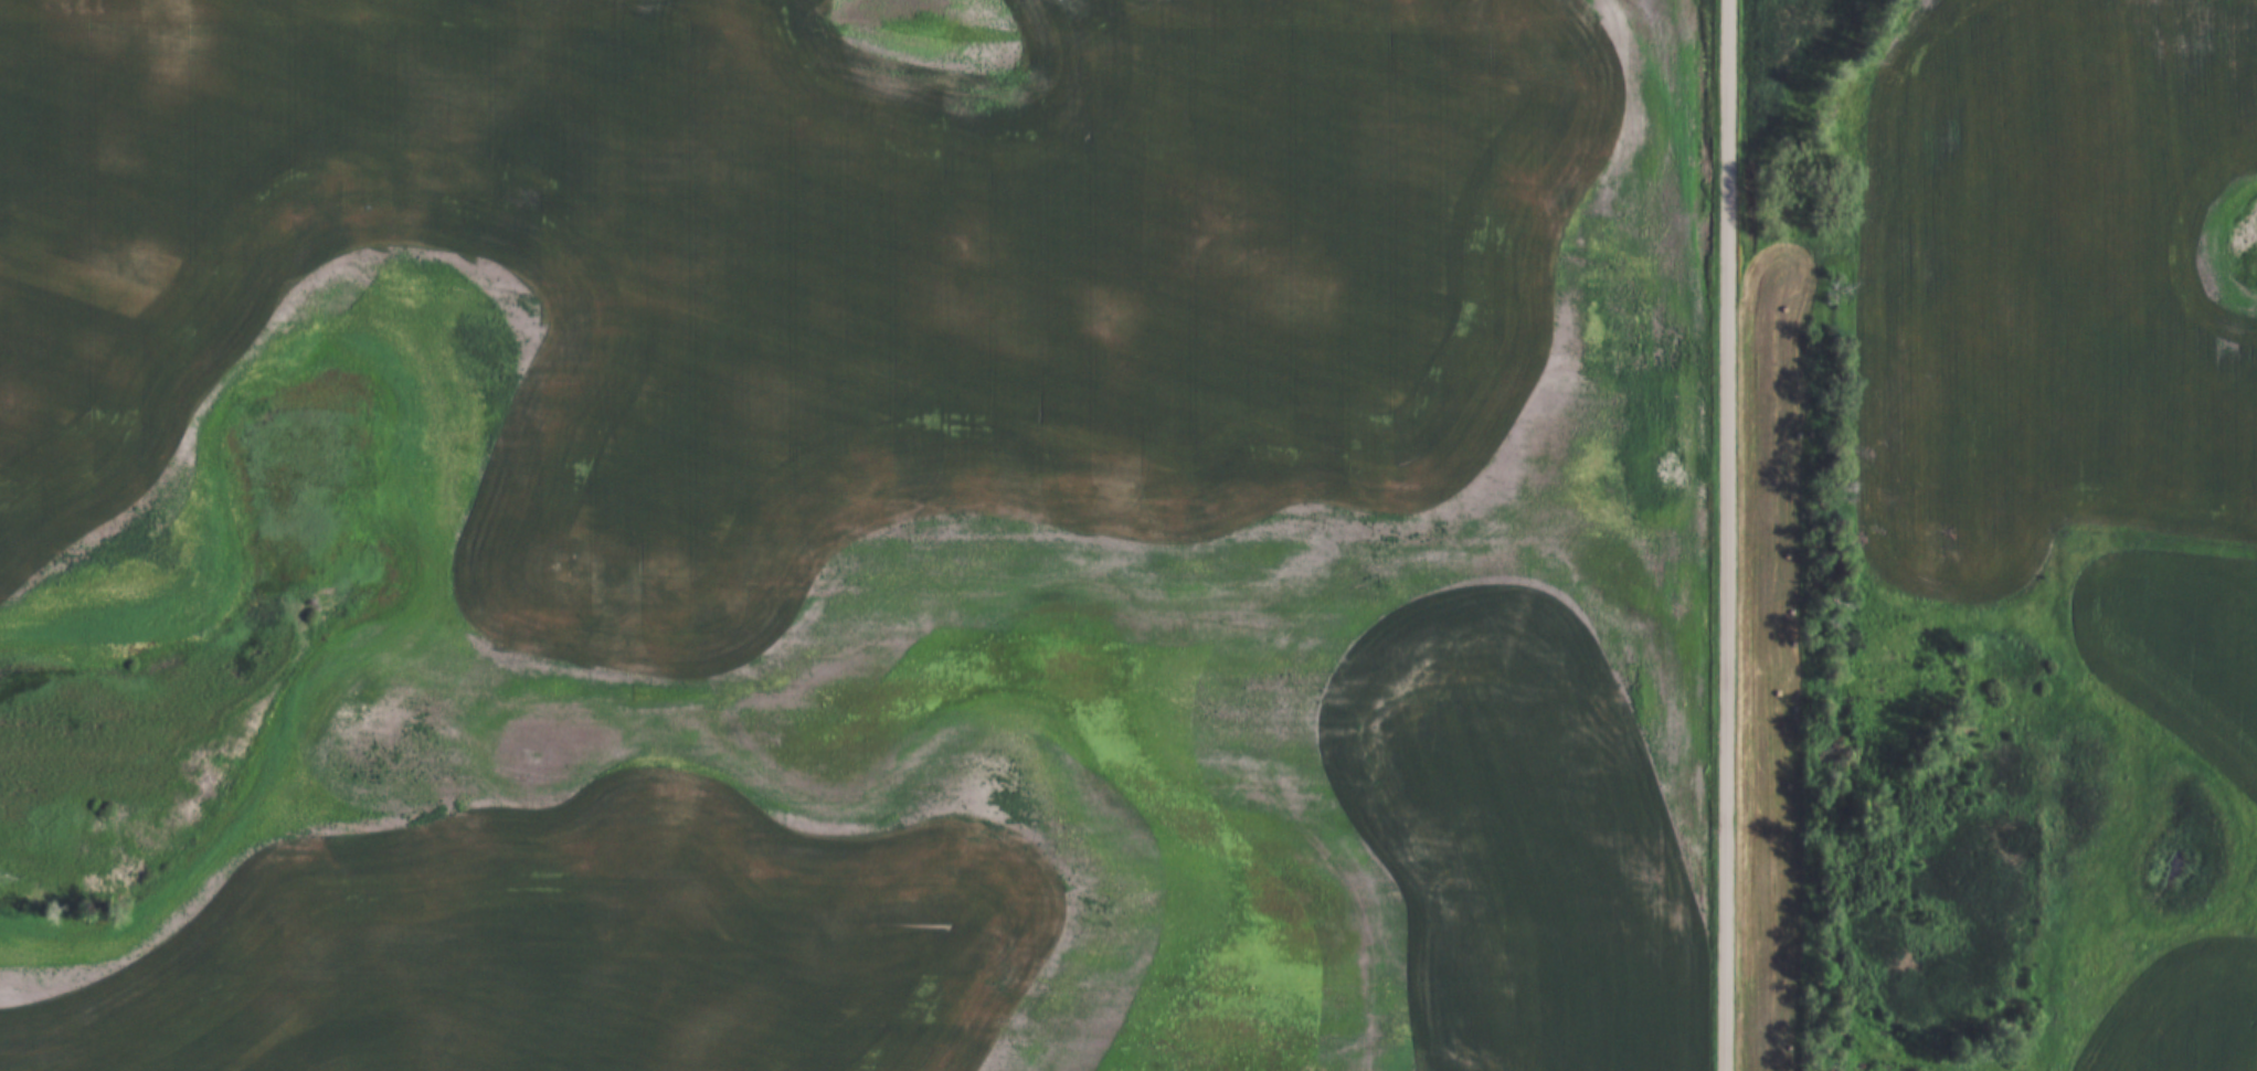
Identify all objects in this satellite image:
road: (1733, 535)

